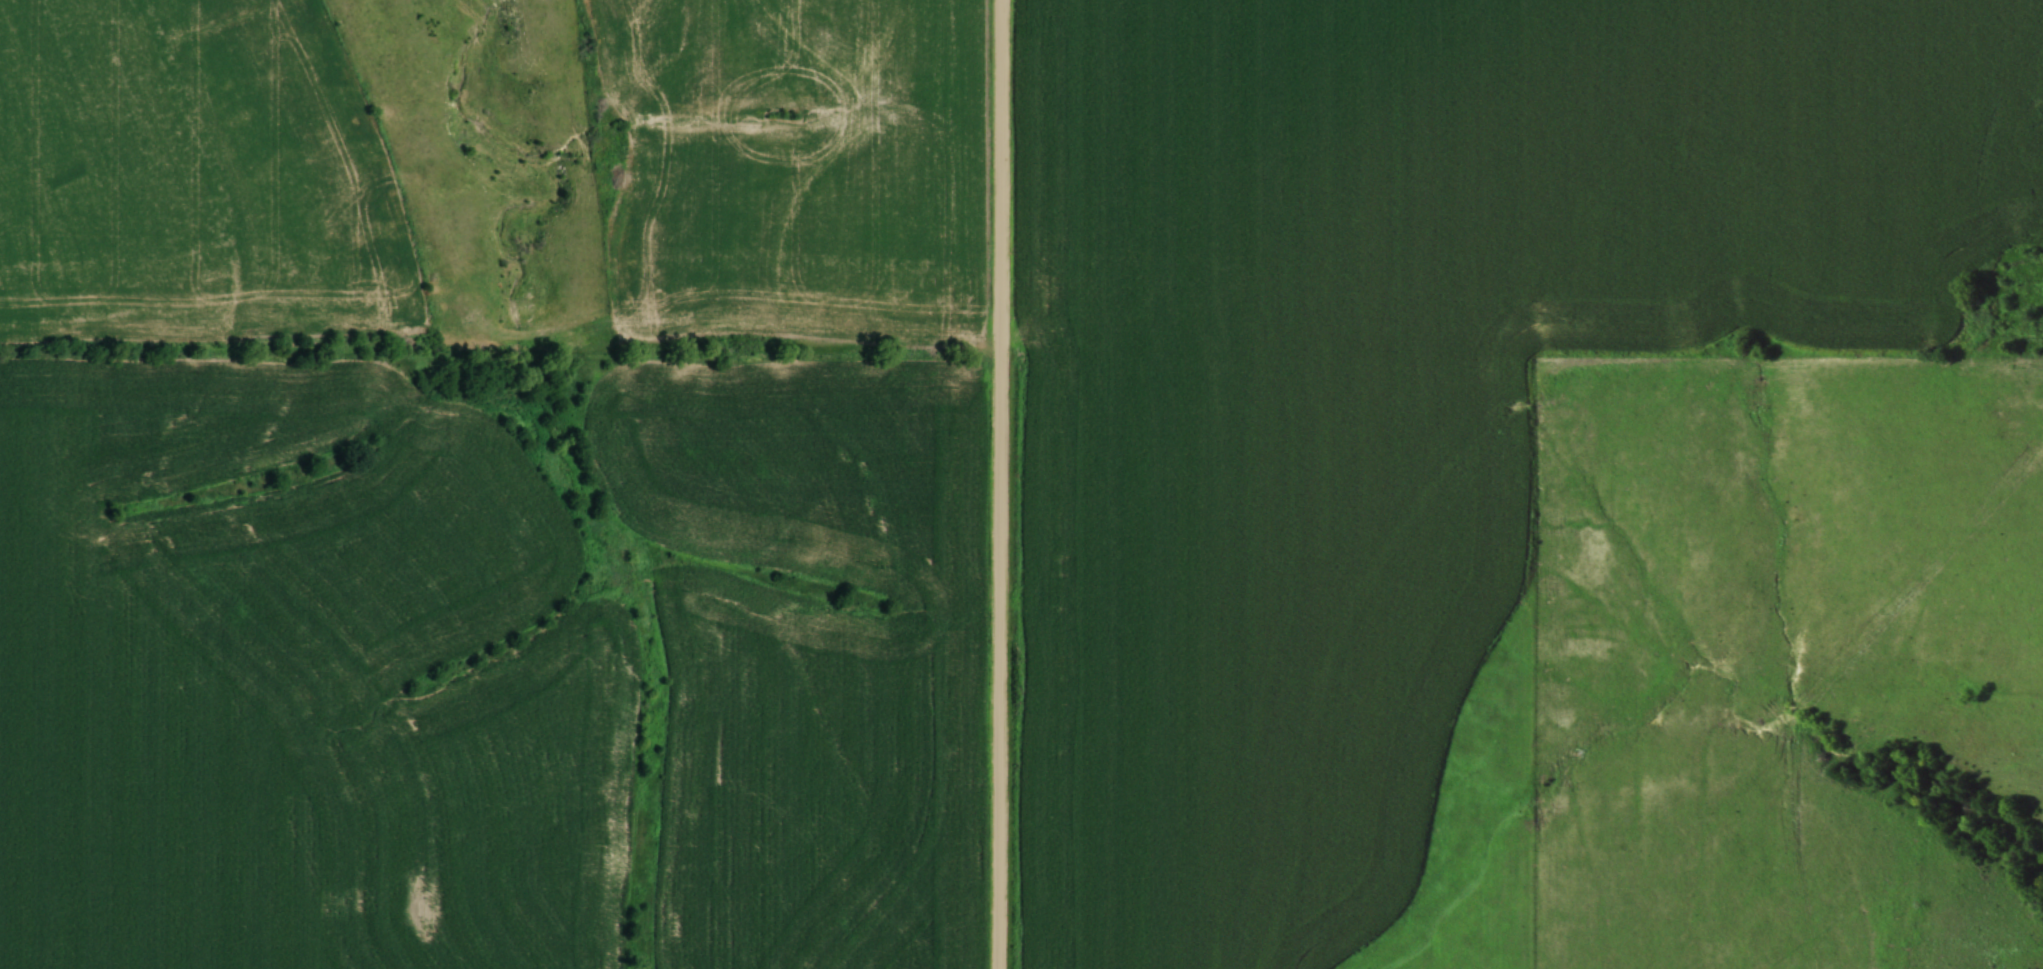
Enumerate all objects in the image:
road: (1004, 484)

